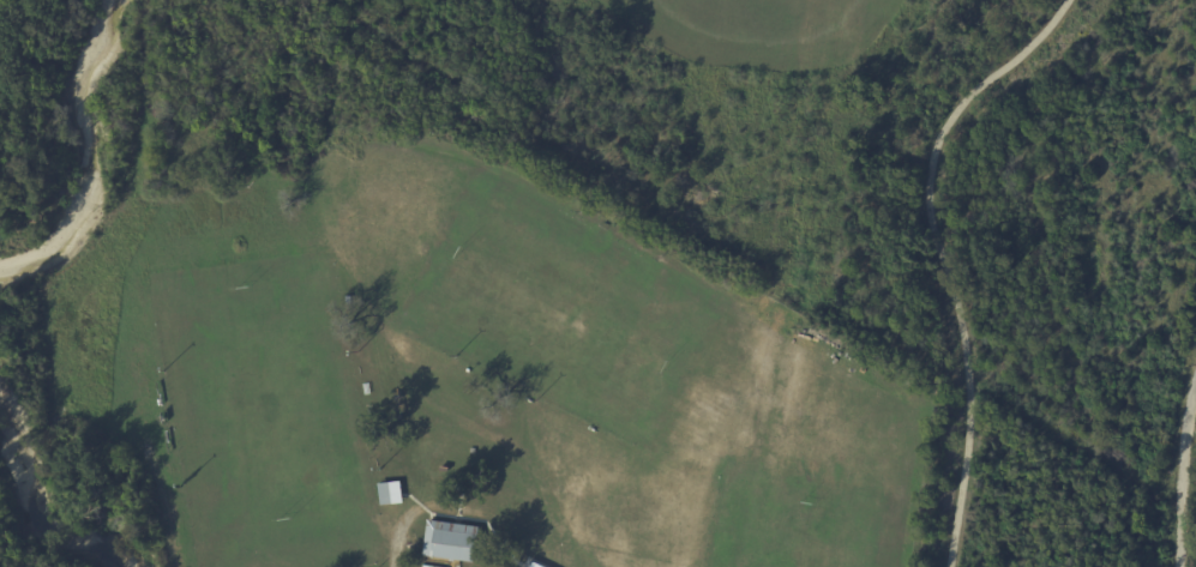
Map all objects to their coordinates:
park: (759, 25)
road: (942, 257)
park: (551, 306)
park: (431, 352)
park: (266, 412)
road: (1184, 476)
building: (385, 493)
road: (164, 520)
park: (793, 527)
building: (452, 542)
park: (1, 565)
building: (533, 565)

